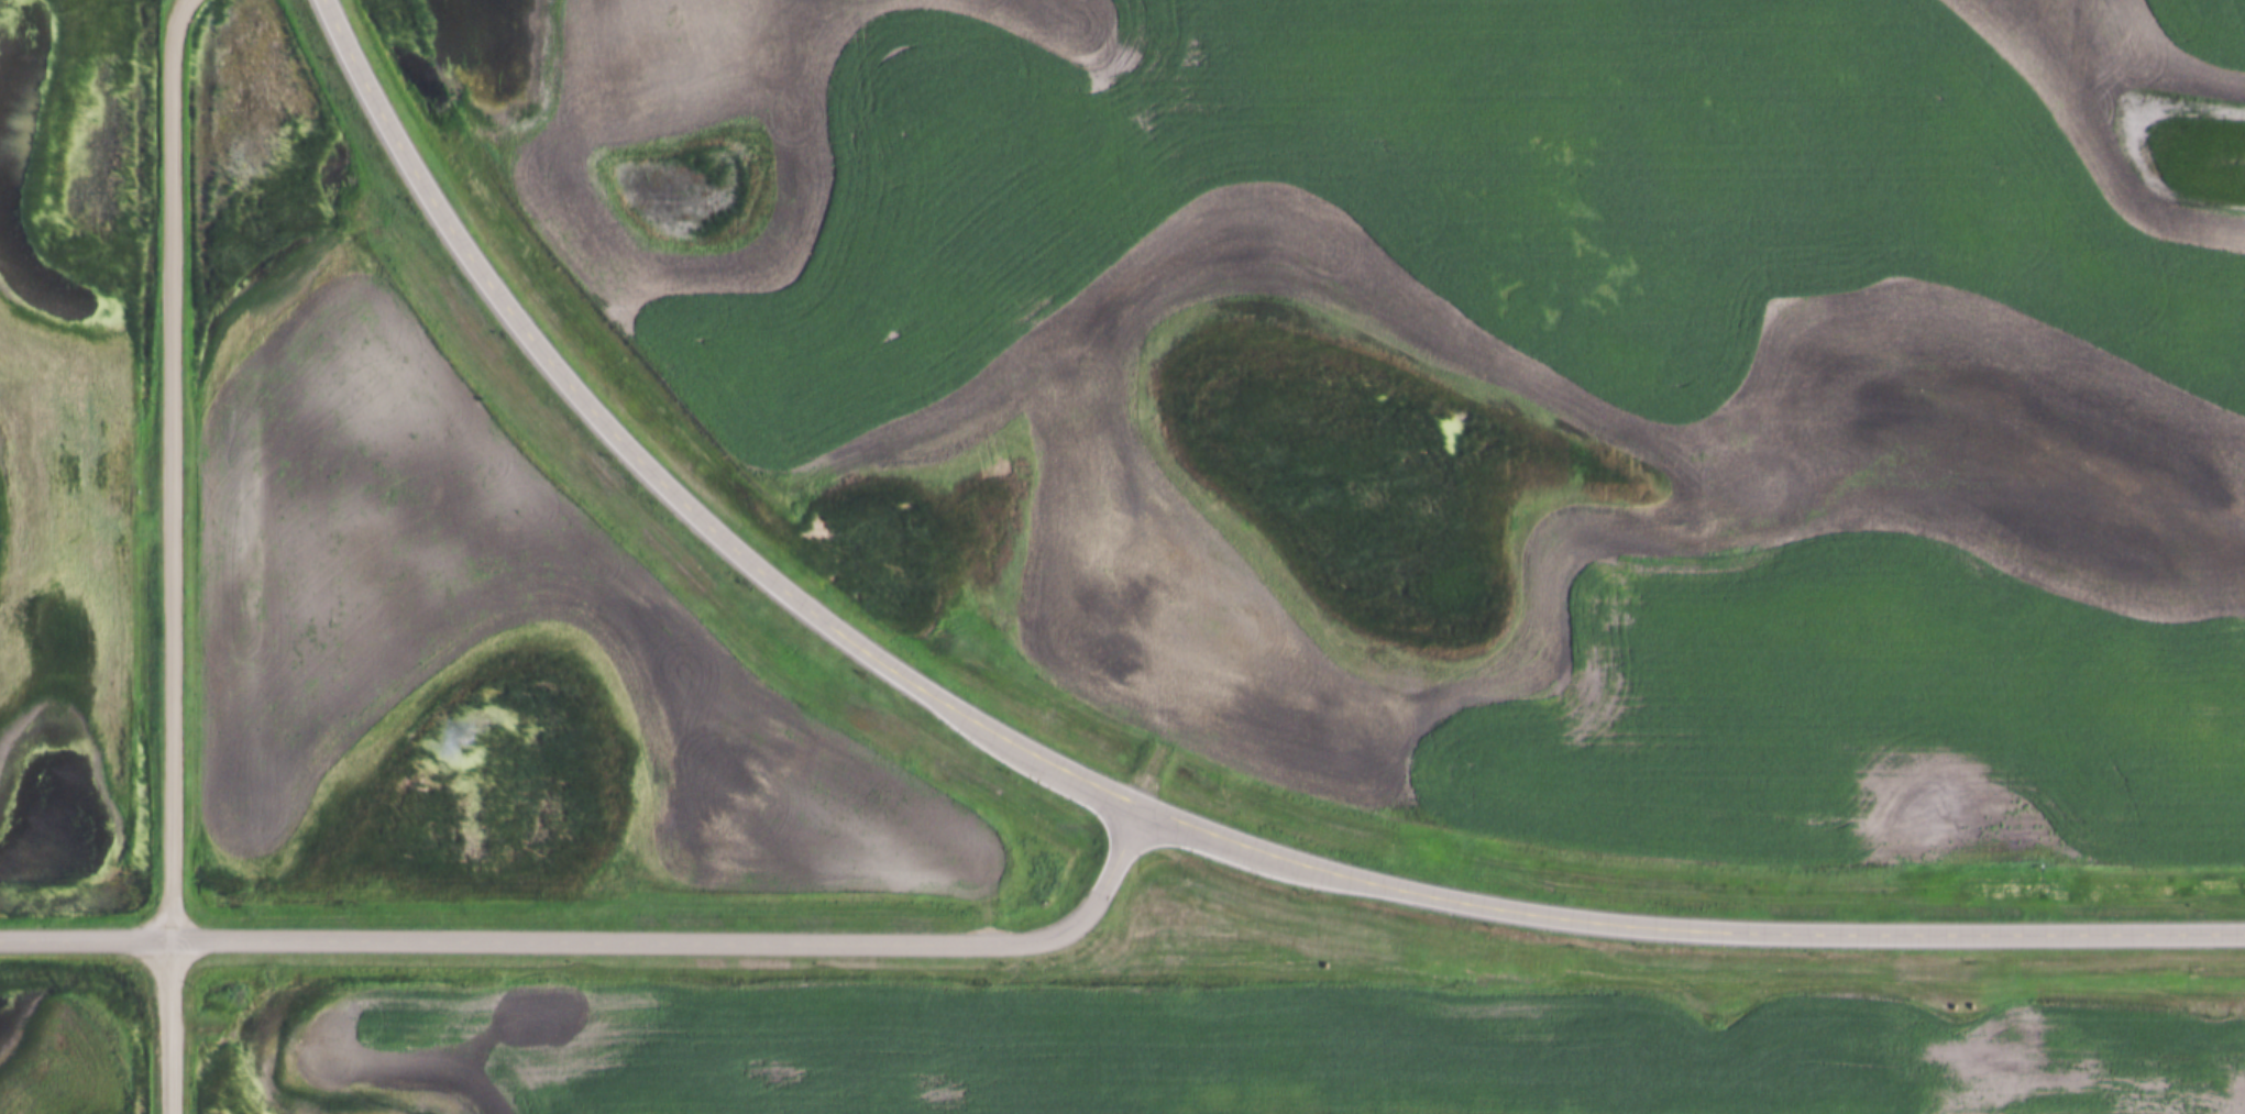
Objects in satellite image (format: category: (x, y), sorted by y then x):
road: (659, 478)
road: (177, 555)
road: (1685, 926)
road: (608, 941)

